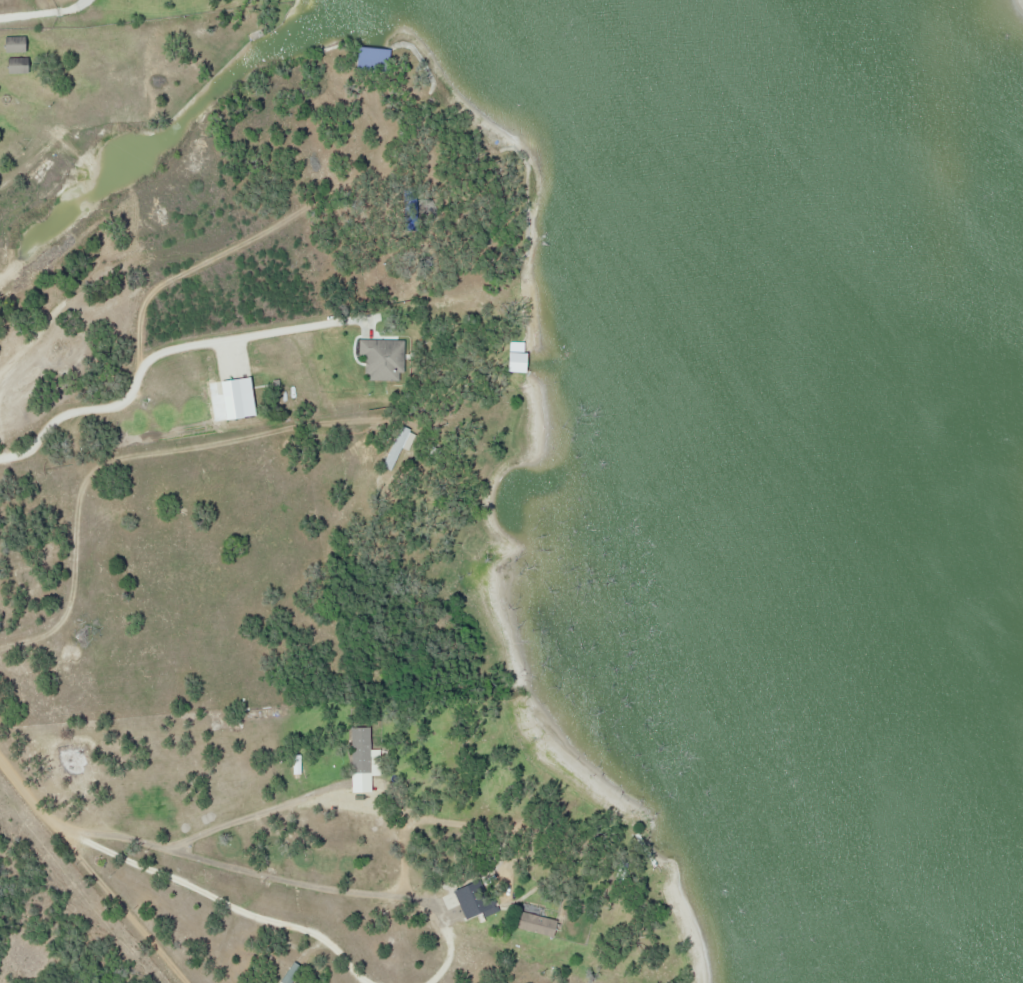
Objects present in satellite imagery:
road: (42, 17)
building: (19, 43)
building: (22, 64)
building: (1, 89)
river: (879, 491)
building: (358, 750)
road: (96, 863)
building: (465, 900)
road: (237, 910)
building: (529, 923)

